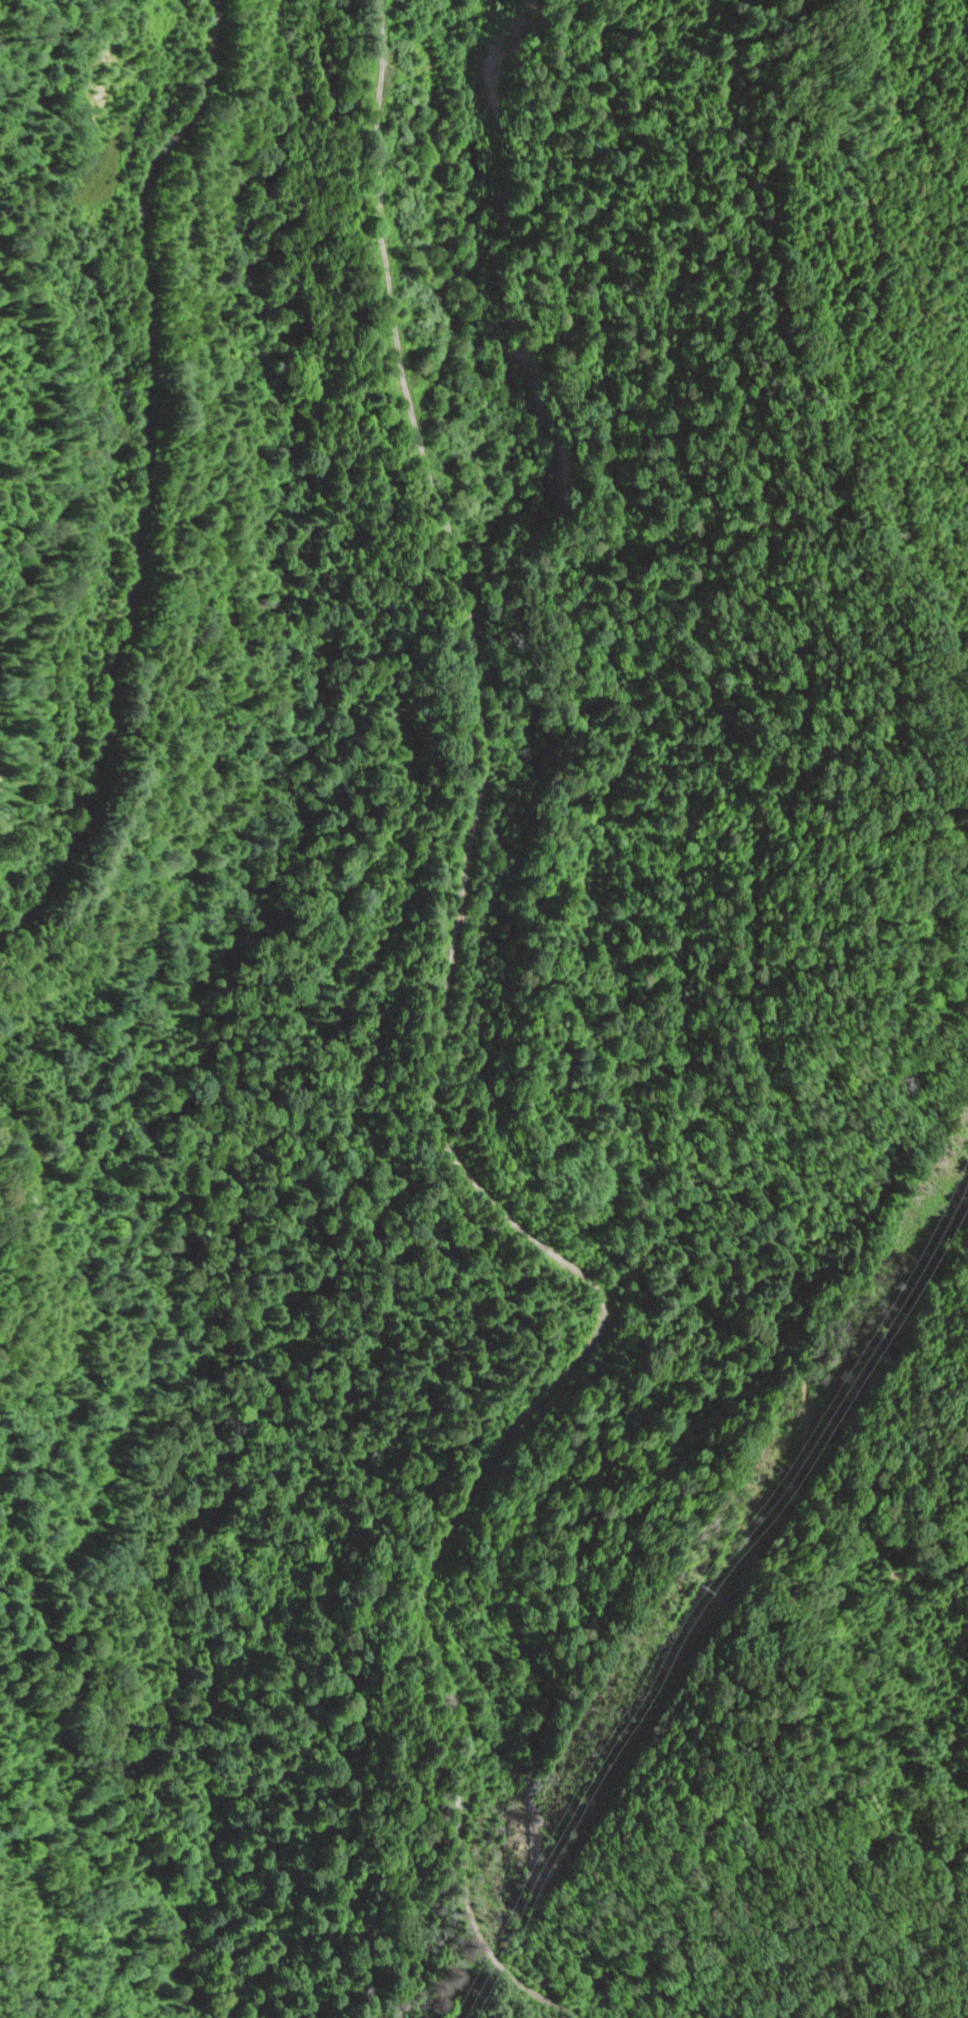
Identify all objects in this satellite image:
power tower: (699, 1587)

